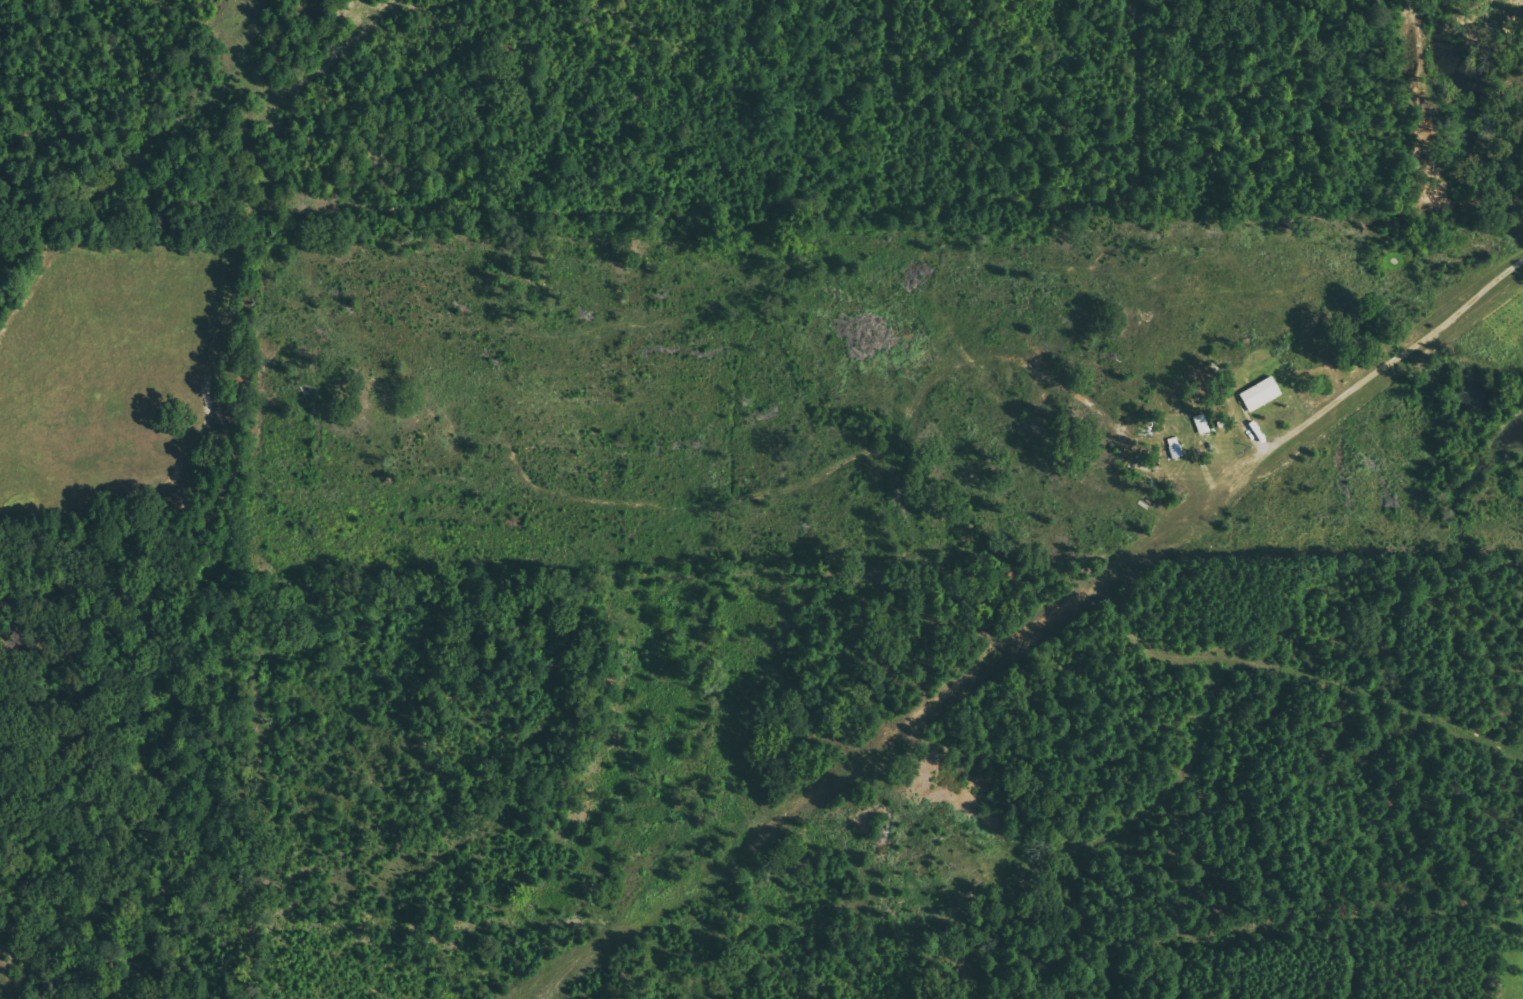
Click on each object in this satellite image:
building: (1262, 394)

